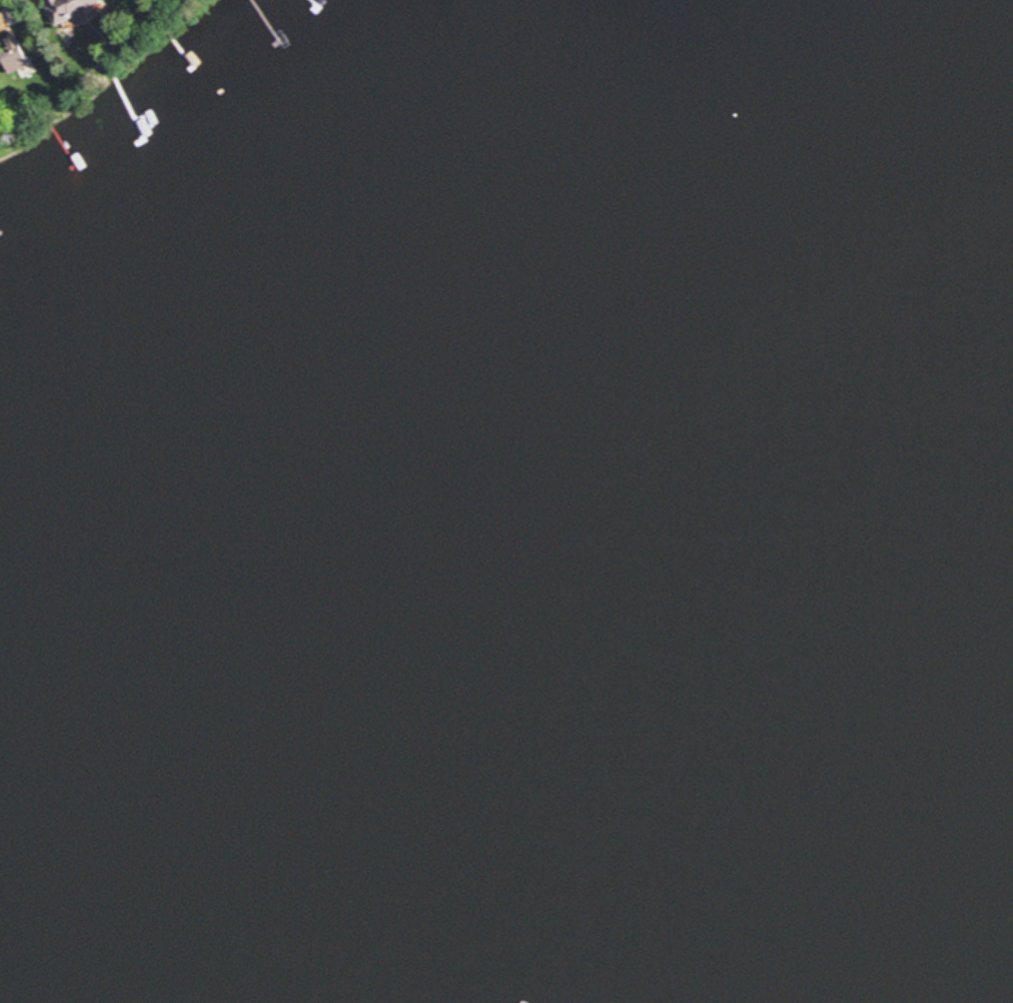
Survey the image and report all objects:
building: (13, 11)
building: (73, 11)
river: (788, 496)

